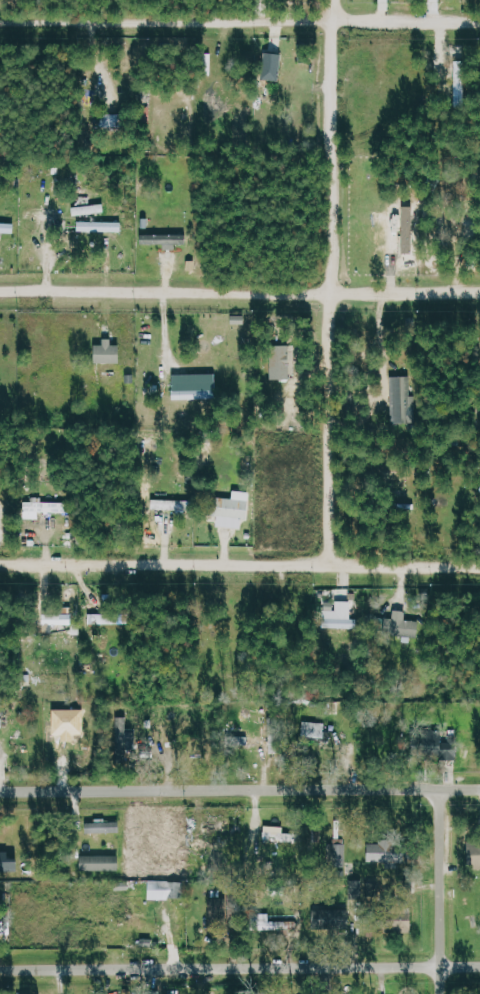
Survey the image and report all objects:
road: (240, 19)
building: (294, 61)
building: (273, 66)
building: (114, 121)
building: (41, 214)
building: (101, 226)
building: (8, 227)
building: (412, 227)
building: (166, 239)
road: (330, 282)
road: (240, 288)
building: (109, 352)
building: (282, 361)
building: (196, 386)
building: (402, 399)
building: (172, 504)
building: (48, 506)
building: (233, 509)
road: (239, 565)
building: (340, 615)
building: (59, 618)
building: (110, 619)
building: (403, 625)
building: (315, 729)
building: (127, 737)
building: (248, 739)
building: (442, 746)
road: (239, 790)
building: (105, 827)
building: (280, 835)
building: (387, 852)
building: (475, 853)
building: (337, 854)
building: (8, 863)
building: (101, 863)
building: (161, 890)
road: (439, 891)
building: (223, 910)
building: (331, 919)
building: (283, 923)
road: (240, 968)

